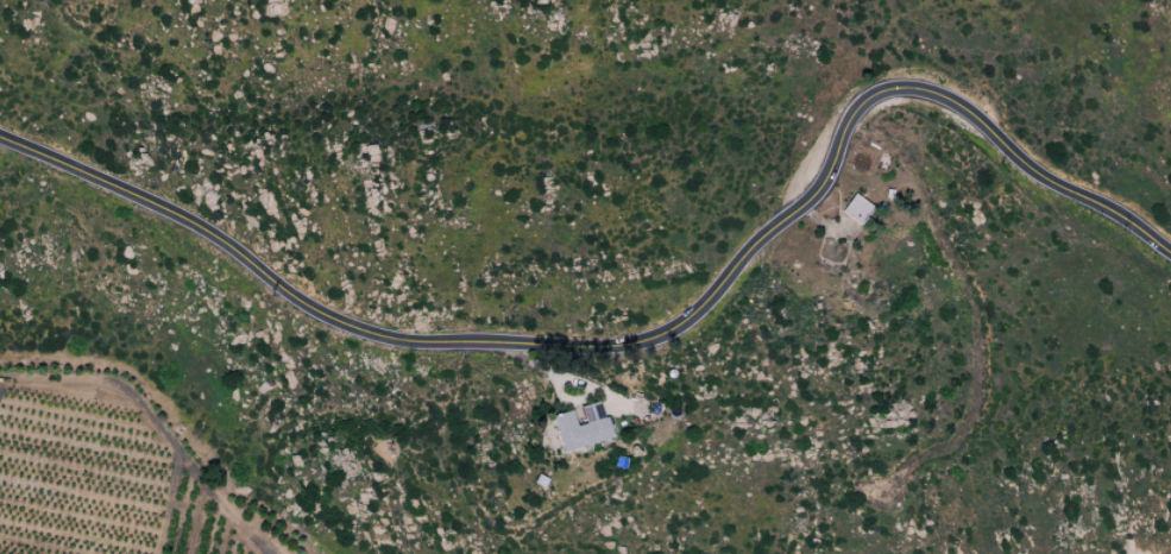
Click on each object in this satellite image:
building: (855, 209)
road: (643, 340)
building: (580, 428)

